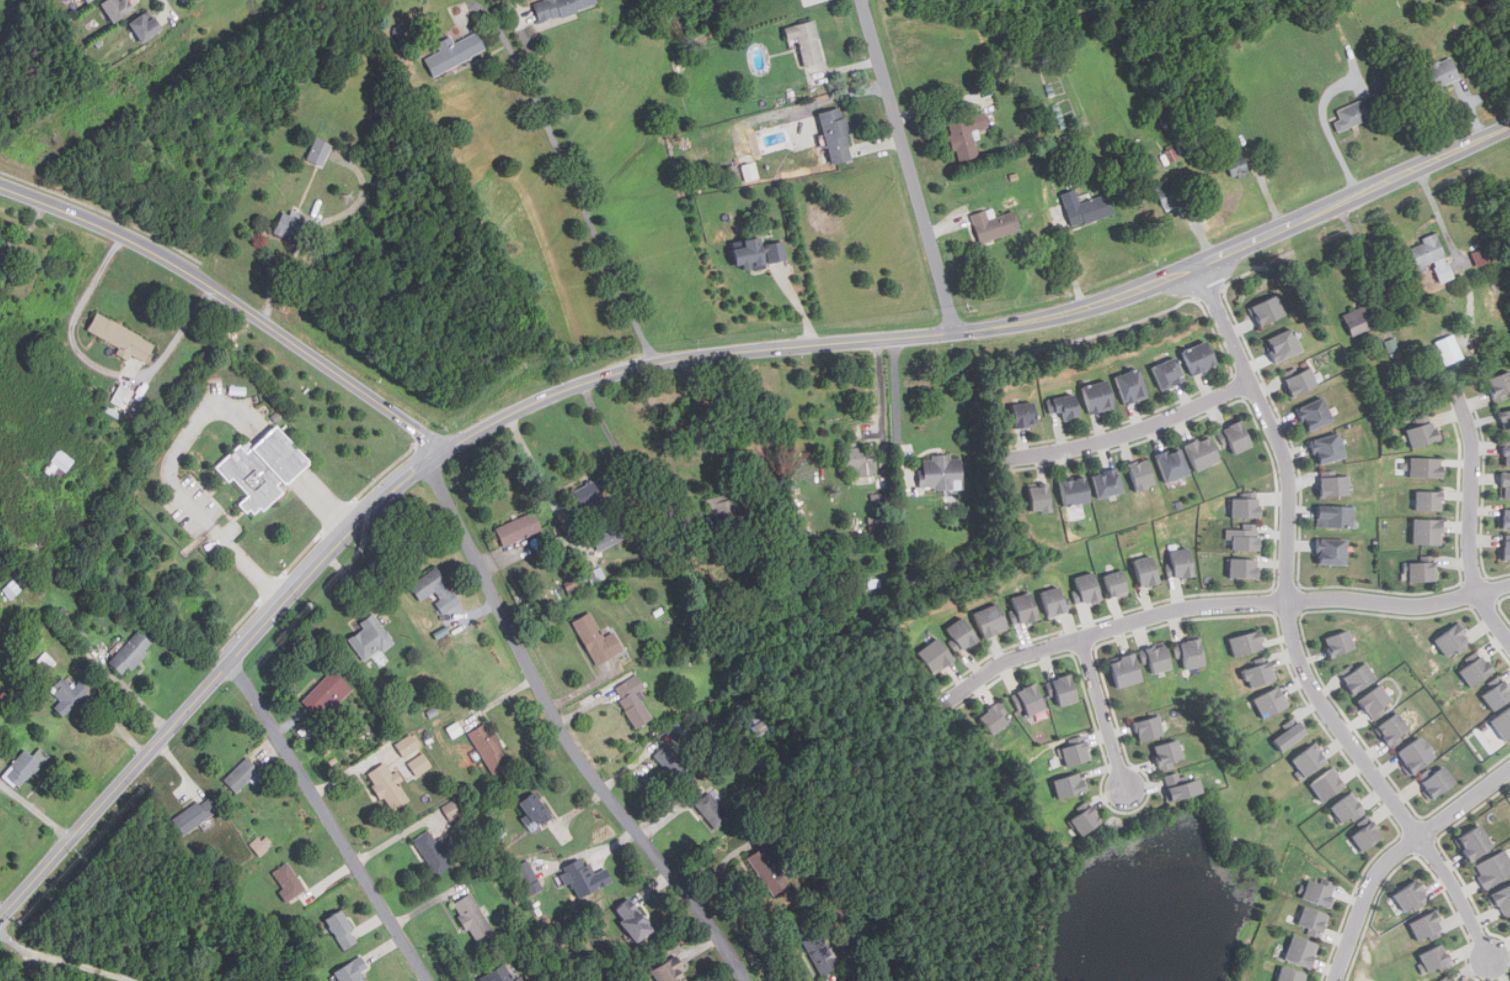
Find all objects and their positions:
building: (88, 1)
road: (865, 1)
building: (559, 7)
building: (118, 9)
building: (147, 28)
building: (805, 40)
road: (513, 52)
building: (455, 53)
road: (532, 54)
building: (1442, 71)
building: (1349, 116)
building: (964, 129)
road: (1330, 133)
building: (835, 135)
building: (319, 151)
road: (910, 165)
building: (749, 171)
building: (1165, 194)
road: (360, 200)
building: (1084, 207)
road: (1440, 215)
building: (992, 223)
building: (289, 224)
road: (26, 229)
road: (595, 231)
building: (758, 252)
building: (1432, 256)
building: (1482, 257)
road: (283, 274)
road: (232, 301)
building: (1271, 310)
building: (1361, 319)
building: (123, 338)
building: (1285, 344)
building: (1450, 349)
building: (1202, 356)
road: (665, 361)
road: (99, 366)
building: (1170, 373)
building: (1303, 379)
building: (1134, 385)
building: (1501, 385)
road: (881, 387)
building: (122, 396)
building: (1100, 396)
road: (896, 399)
building: (1066, 405)
building: (1317, 413)
building: (1026, 414)
building: (1505, 418)
road: (1134, 430)
building: (1424, 433)
building: (1238, 437)
building: (1329, 448)
building: (1204, 452)
building: (1508, 455)
building: (859, 460)
building: (59, 462)
building: (1174, 464)
building: (1428, 466)
building: (270, 468)
building: (941, 472)
building: (1143, 474)
road: (545, 482)
building: (1108, 482)
building: (1338, 485)
building: (1506, 485)
building: (1076, 490)
building: (591, 494)
building: (1042, 497)
building: (1430, 500)
building: (1247, 507)
road: (194, 509)
building: (726, 514)
building: (1336, 515)
road: (1471, 515)
building: (1507, 518)
building: (519, 528)
building: (1429, 531)
building: (1246, 537)
building: (608, 538)
building: (705, 540)
building: (1333, 550)
building: (1506, 550)
building: (1182, 562)
building: (1245, 568)
building: (1149, 570)
building: (1423, 571)
building: (1118, 583)
building: (1087, 587)
building: (12, 588)
building: (435, 589)
building: (1055, 601)
road: (1218, 603)
building: (1024, 607)
building: (993, 619)
road: (1295, 631)
building: (963, 633)
building: (371, 637)
building: (597, 639)
building: (1454, 639)
building: (1248, 642)
building: (1341, 642)
building: (129, 653)
building: (1194, 653)
building: (938, 655)
building: (1158, 657)
building: (43, 663)
building: (1126, 669)
building: (1479, 670)
building: (1264, 671)
building: (1360, 677)
building: (1064, 690)
building: (327, 693)
building: (64, 695)
building: (1499, 696)
building: (633, 700)
building: (1029, 700)
building: (1273, 701)
building: (1380, 702)
road: (1104, 715)
building: (995, 719)
building: (1504, 723)
building: (679, 726)
building: (1151, 727)
building: (758, 728)
building: (1395, 729)
road: (568, 734)
building: (1293, 734)
building: (408, 744)
building: (490, 748)
building: (1077, 751)
building: (1170, 754)
building: (1420, 756)
building: (1310, 761)
building: (672, 762)
building: (420, 764)
building: (21, 768)
building: (242, 775)
building: (1439, 780)
building: (1328, 784)
building: (1071, 786)
building: (389, 787)
building: (1182, 788)
building: (1348, 809)
building: (534, 810)
building: (712, 810)
road: (36, 811)
building: (196, 815)
road: (331, 820)
building: (1086, 820)
building: (1369, 836)
building: (1476, 842)
building: (262, 844)
building: (433, 852)
road: (1397, 854)
building: (1494, 869)
building: (769, 871)
building: (527, 875)
building: (585, 878)
building: (289, 881)
building: (1320, 894)
building: (1412, 896)
building: (1503, 900)
road: (3, 907)
building: (473, 918)
building: (634, 920)
building: (1313, 921)
building: (1429, 927)
building: (342, 929)
building: (1303, 951)
building: (821, 953)
building: (1436, 959)
road: (53, 960)
building: (353, 970)
building: (670, 972)
building: (503, 973)
building: (1292, 975)
building: (1447, 978)
building: (1456, 980)

